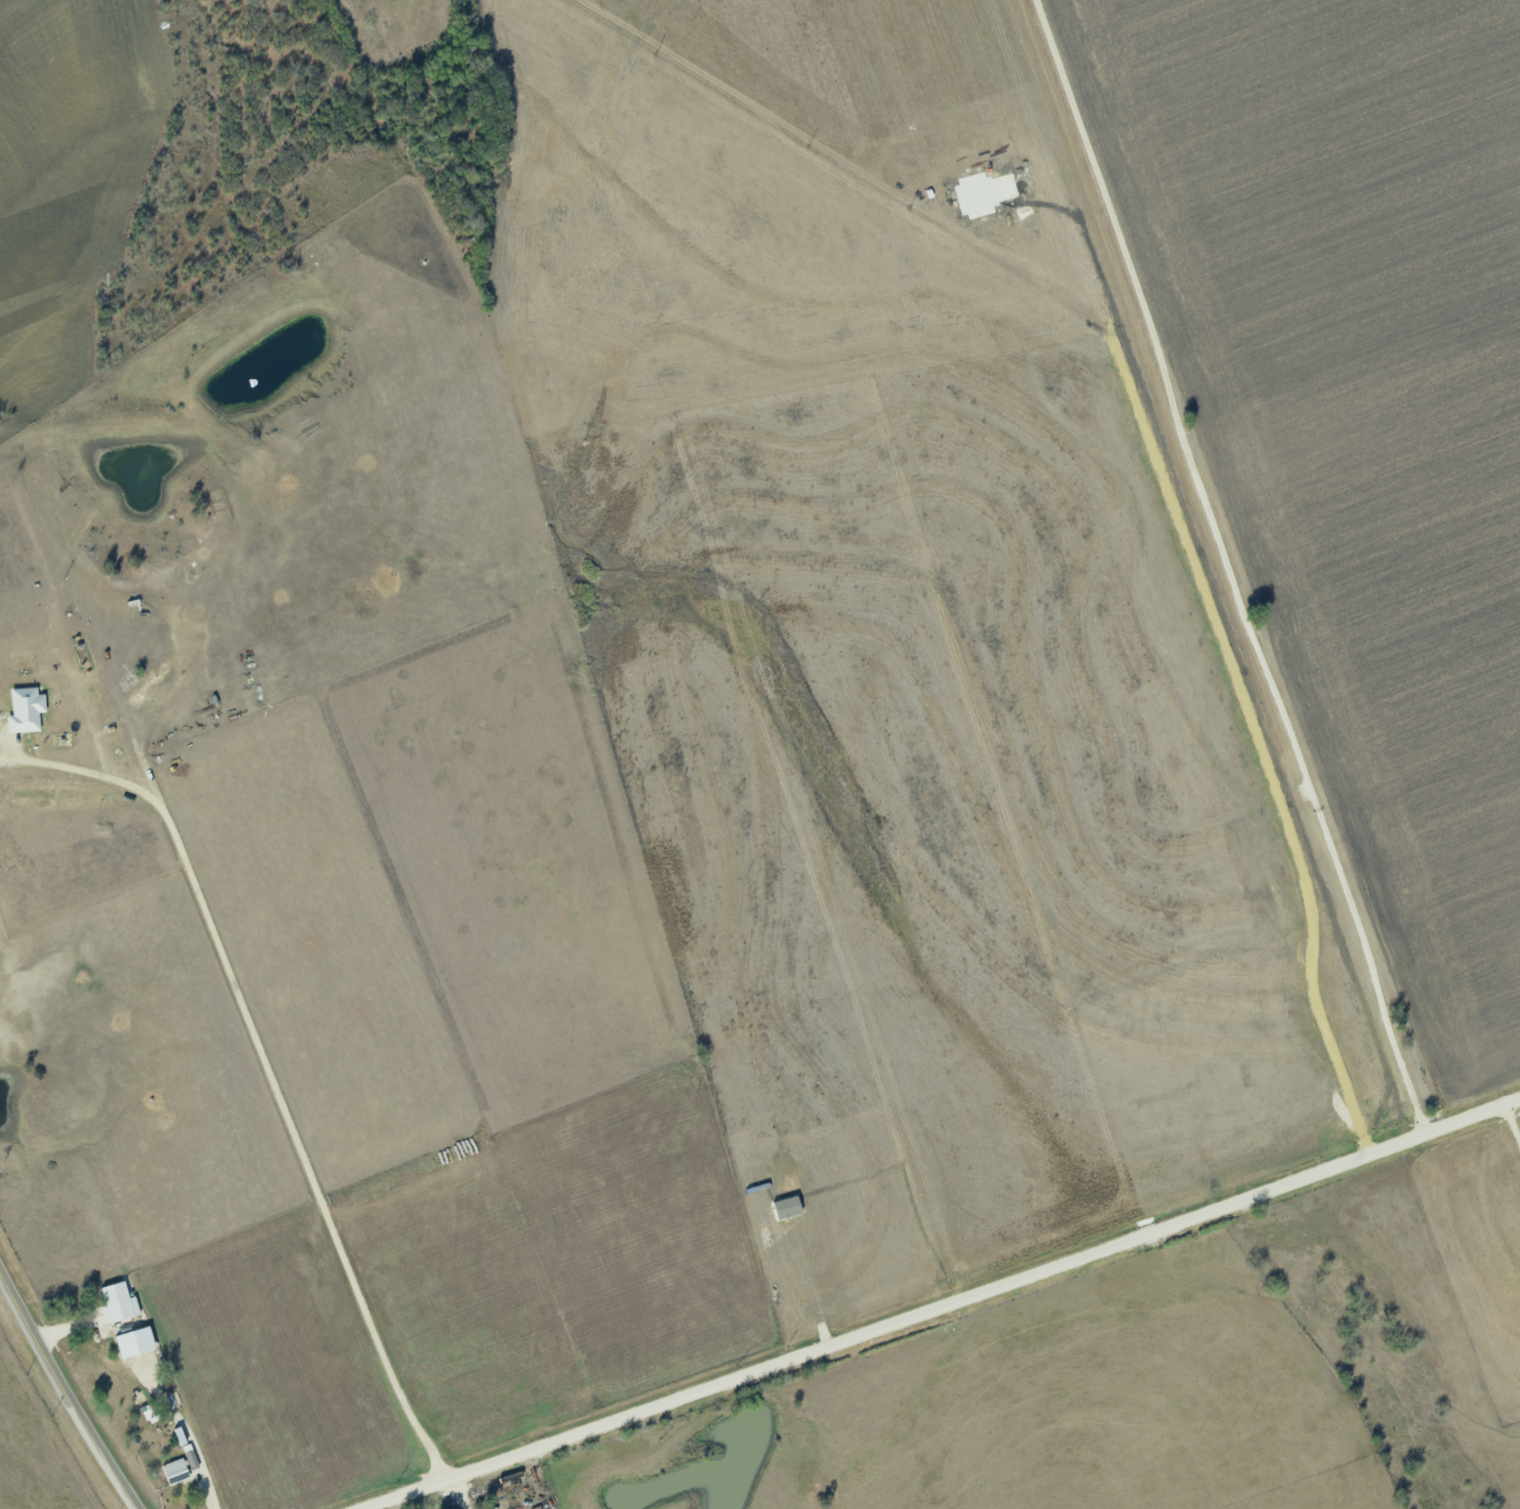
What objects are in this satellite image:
road: (1228, 565)
building: (26, 710)
road: (91, 784)
road: (1515, 1114)
road: (294, 1149)
building: (118, 1304)
road: (941, 1305)
building: (135, 1343)
road: (67, 1388)
road: (187, 1429)
building: (175, 1471)

